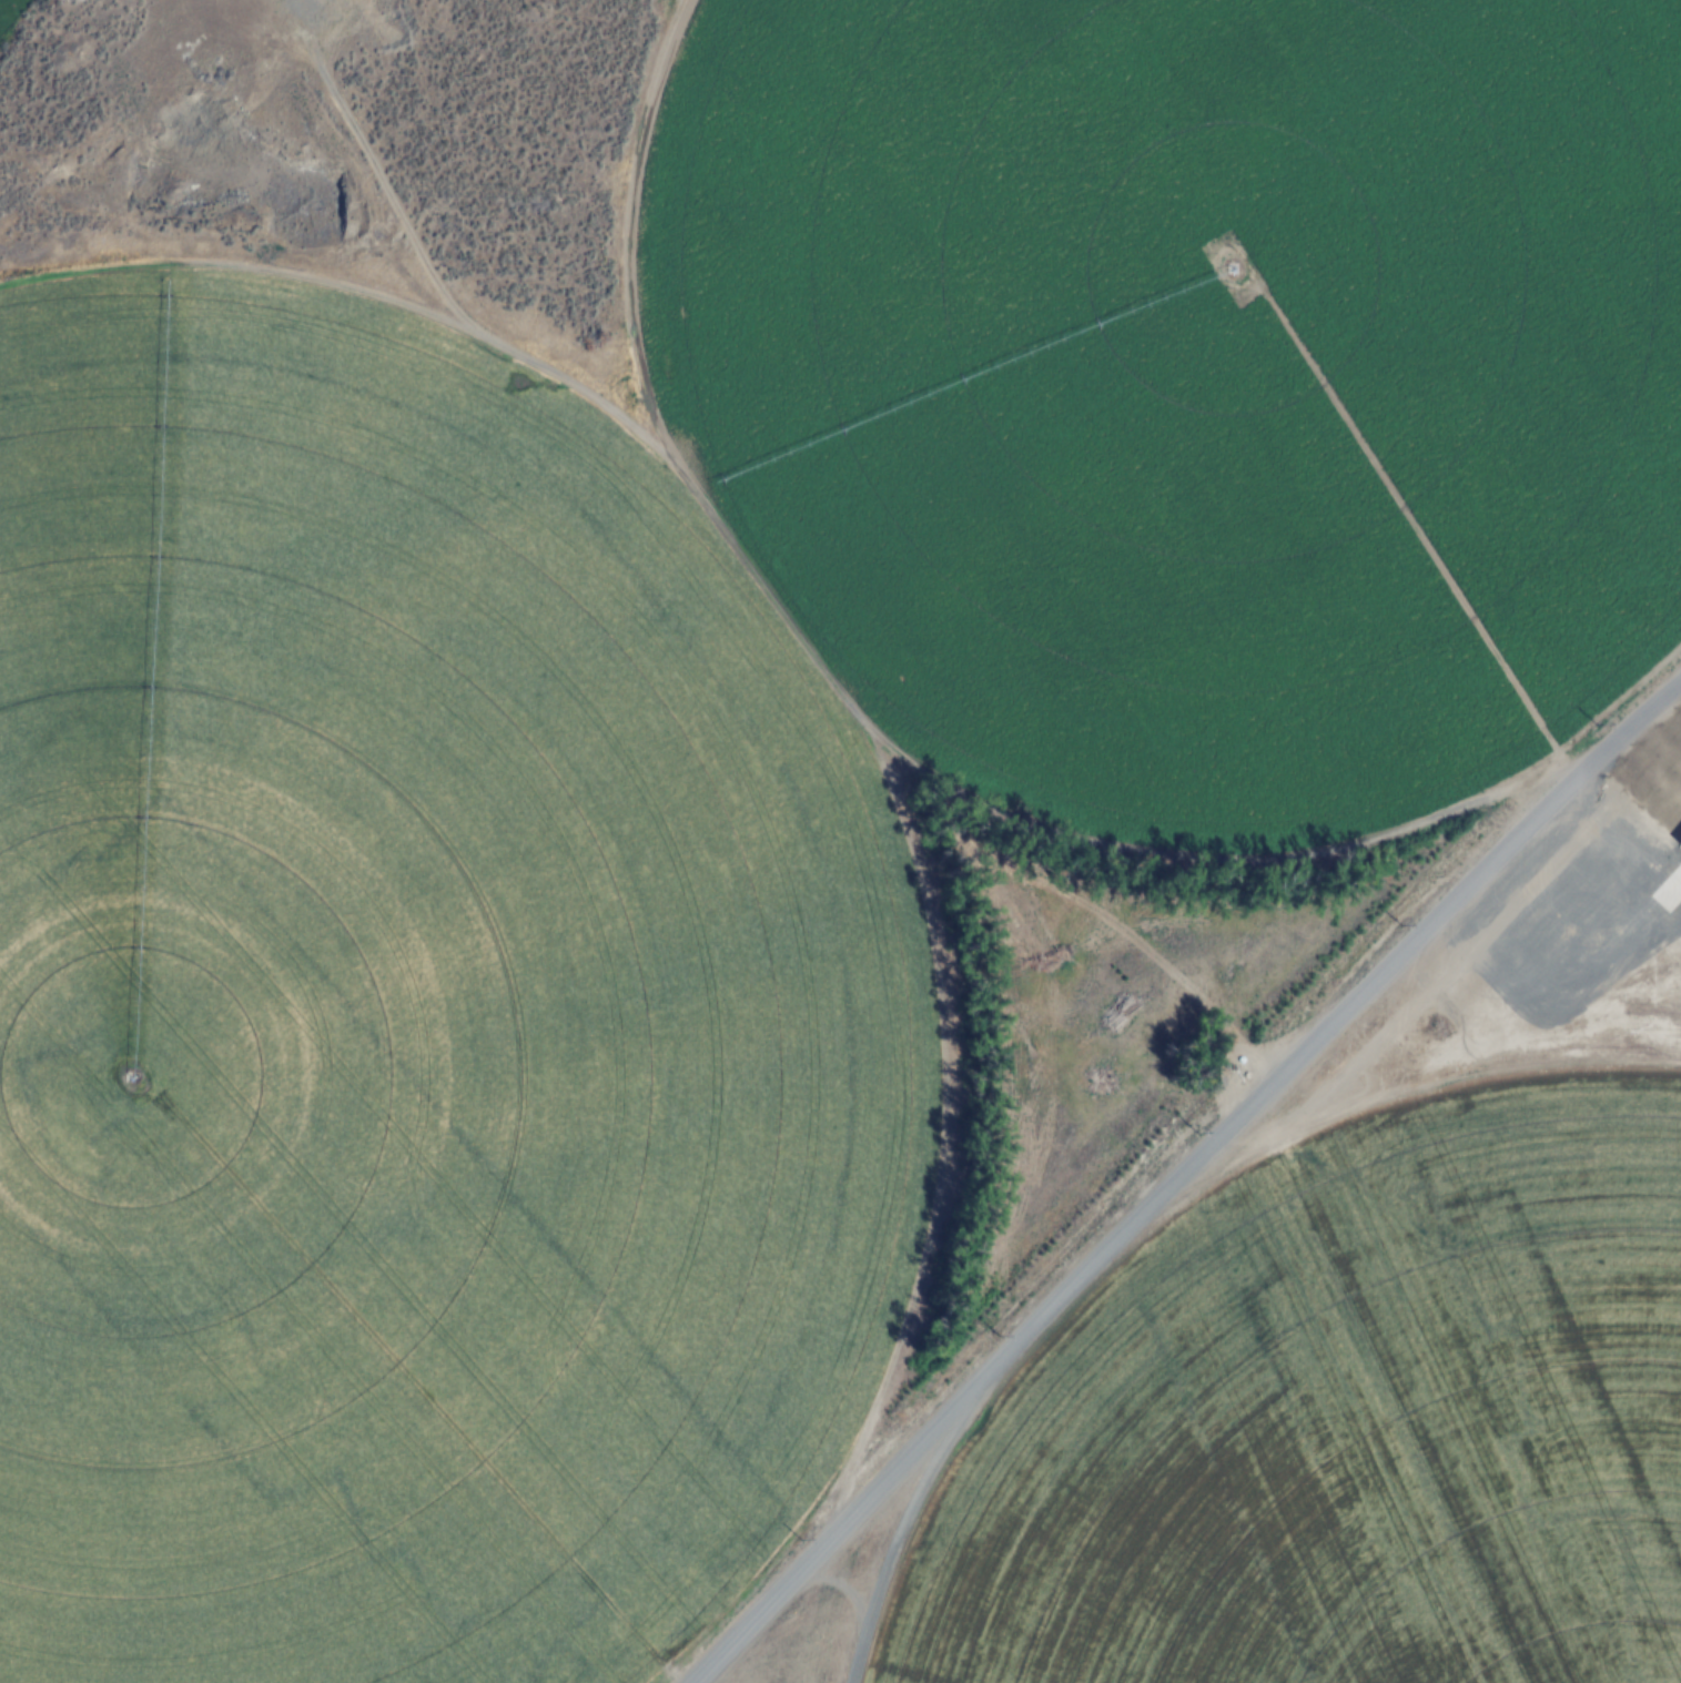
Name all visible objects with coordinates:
road: (1183, 1182)

